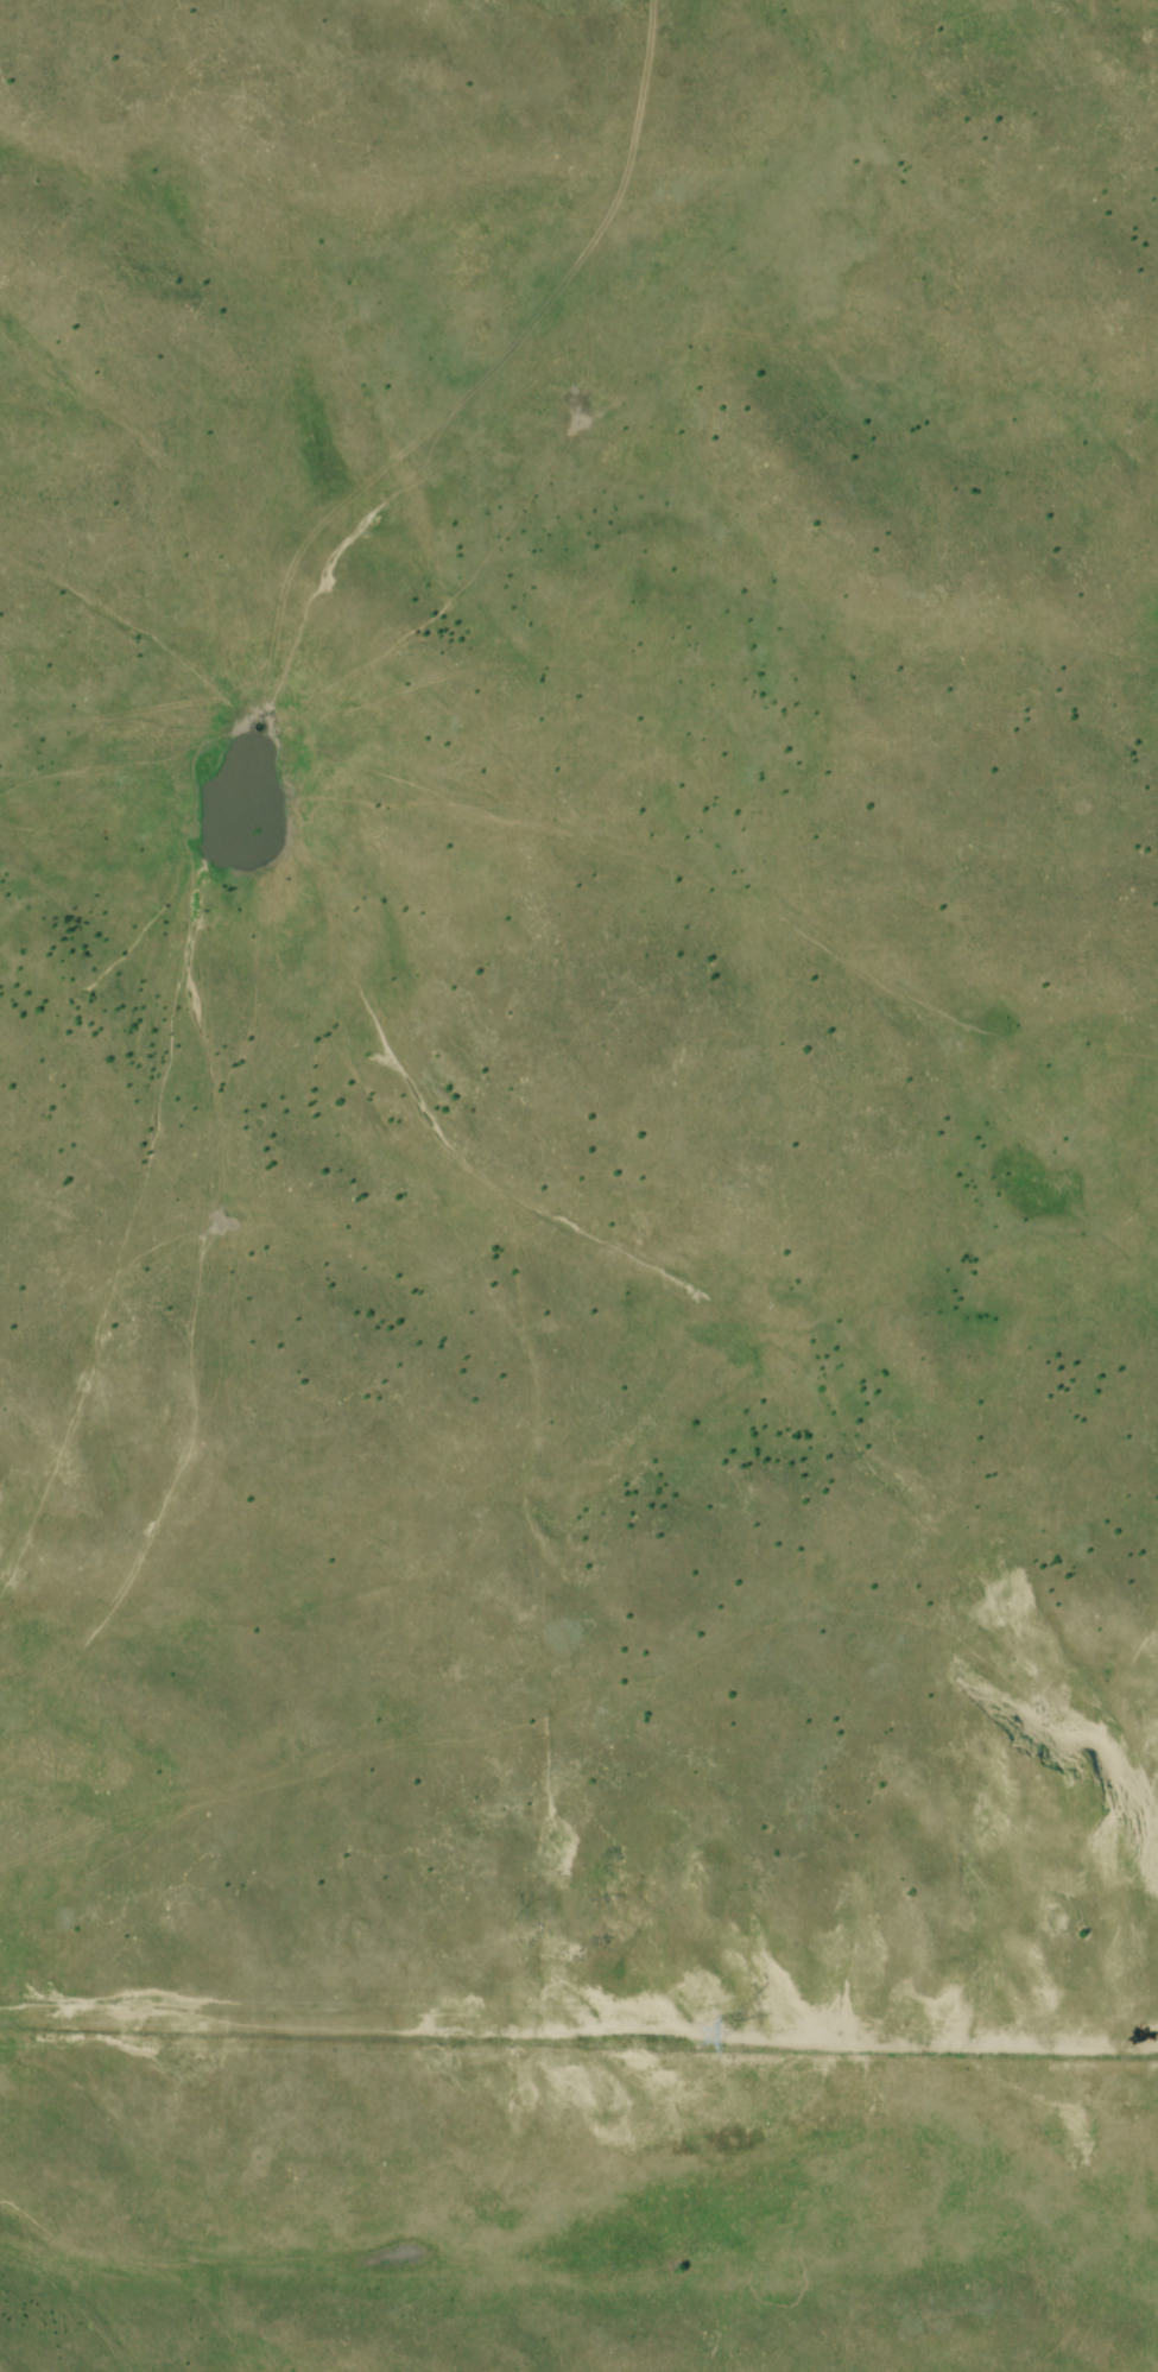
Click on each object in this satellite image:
power tower: (703, 2033)

